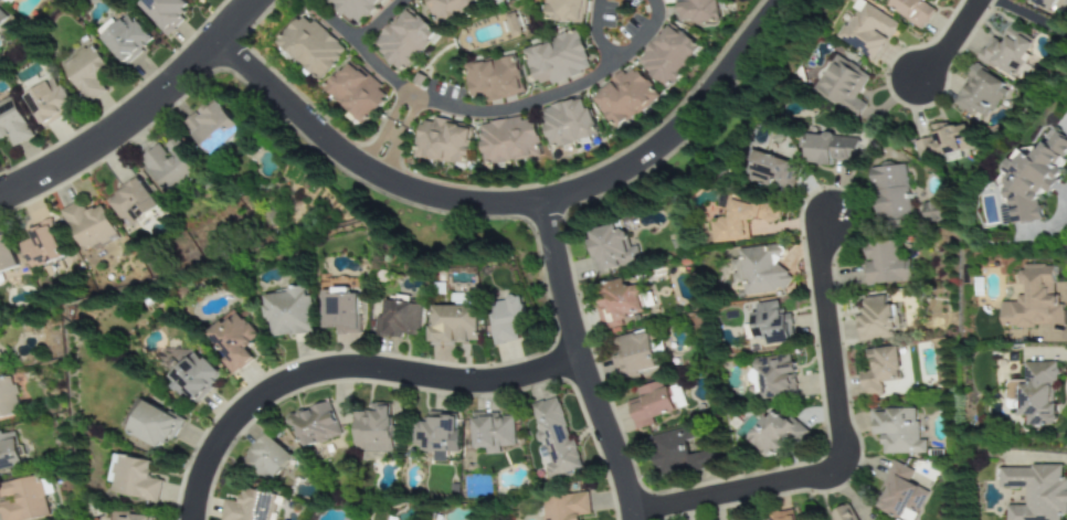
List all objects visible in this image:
building: (490, 0)
building: (8, 2)
building: (1047, 4)
building: (353, 9)
building: (448, 9)
building: (562, 10)
building: (693, 10)
building: (912, 10)
building: (162, 12)
road: (1029, 15)
building: (0, 17)
road: (381, 23)
building: (514, 23)
building: (867, 30)
building: (124, 39)
building: (402, 40)
road: (952, 40)
building: (310, 46)
building: (1006, 53)
road: (617, 54)
building: (663, 56)
building: (554, 60)
building: (85, 73)
building: (492, 79)
building: (843, 85)
building: (353, 93)
building: (978, 94)
building: (620, 97)
building: (45, 100)
road: (137, 109)
road: (455, 112)
building: (210, 123)
building: (11, 124)
building: (564, 124)
road: (393, 137)
building: (505, 140)
building: (942, 141)
building: (441, 142)
building: (830, 149)
building: (169, 166)
building: (771, 171)
building: (1032, 178)
building: (889, 195)
building: (133, 202)
road: (513, 203)
building: (929, 212)
building: (740, 221)
building: (88, 225)
building: (41, 246)
building: (612, 247)
building: (6, 255)
building: (884, 263)
building: (759, 269)
building: (1036, 299)
building: (617, 303)
building: (288, 310)
building: (340, 310)
building: (508, 318)
building: (402, 319)
building: (876, 319)
building: (771, 323)
building: (456, 325)
building: (234, 340)
building: (634, 353)
road: (577, 363)
road: (342, 367)
building: (879, 370)
building: (196, 376)
building: (775, 376)
building: (1035, 393)
building: (7, 399)
building: (655, 403)
building: (314, 424)
building: (157, 425)
building: (898, 431)
building: (374, 432)
building: (493, 432)
building: (775, 434)
building: (437, 435)
building: (553, 438)
road: (838, 444)
building: (8, 450)
building: (672, 450)
building: (266, 458)
building: (136, 478)
building: (1036, 491)
building: (900, 494)
building: (21, 500)
building: (247, 507)
building: (566, 507)
building: (843, 513)
building: (781, 516)
building: (136, 518)
building: (746, 519)
building: (812, 519)

